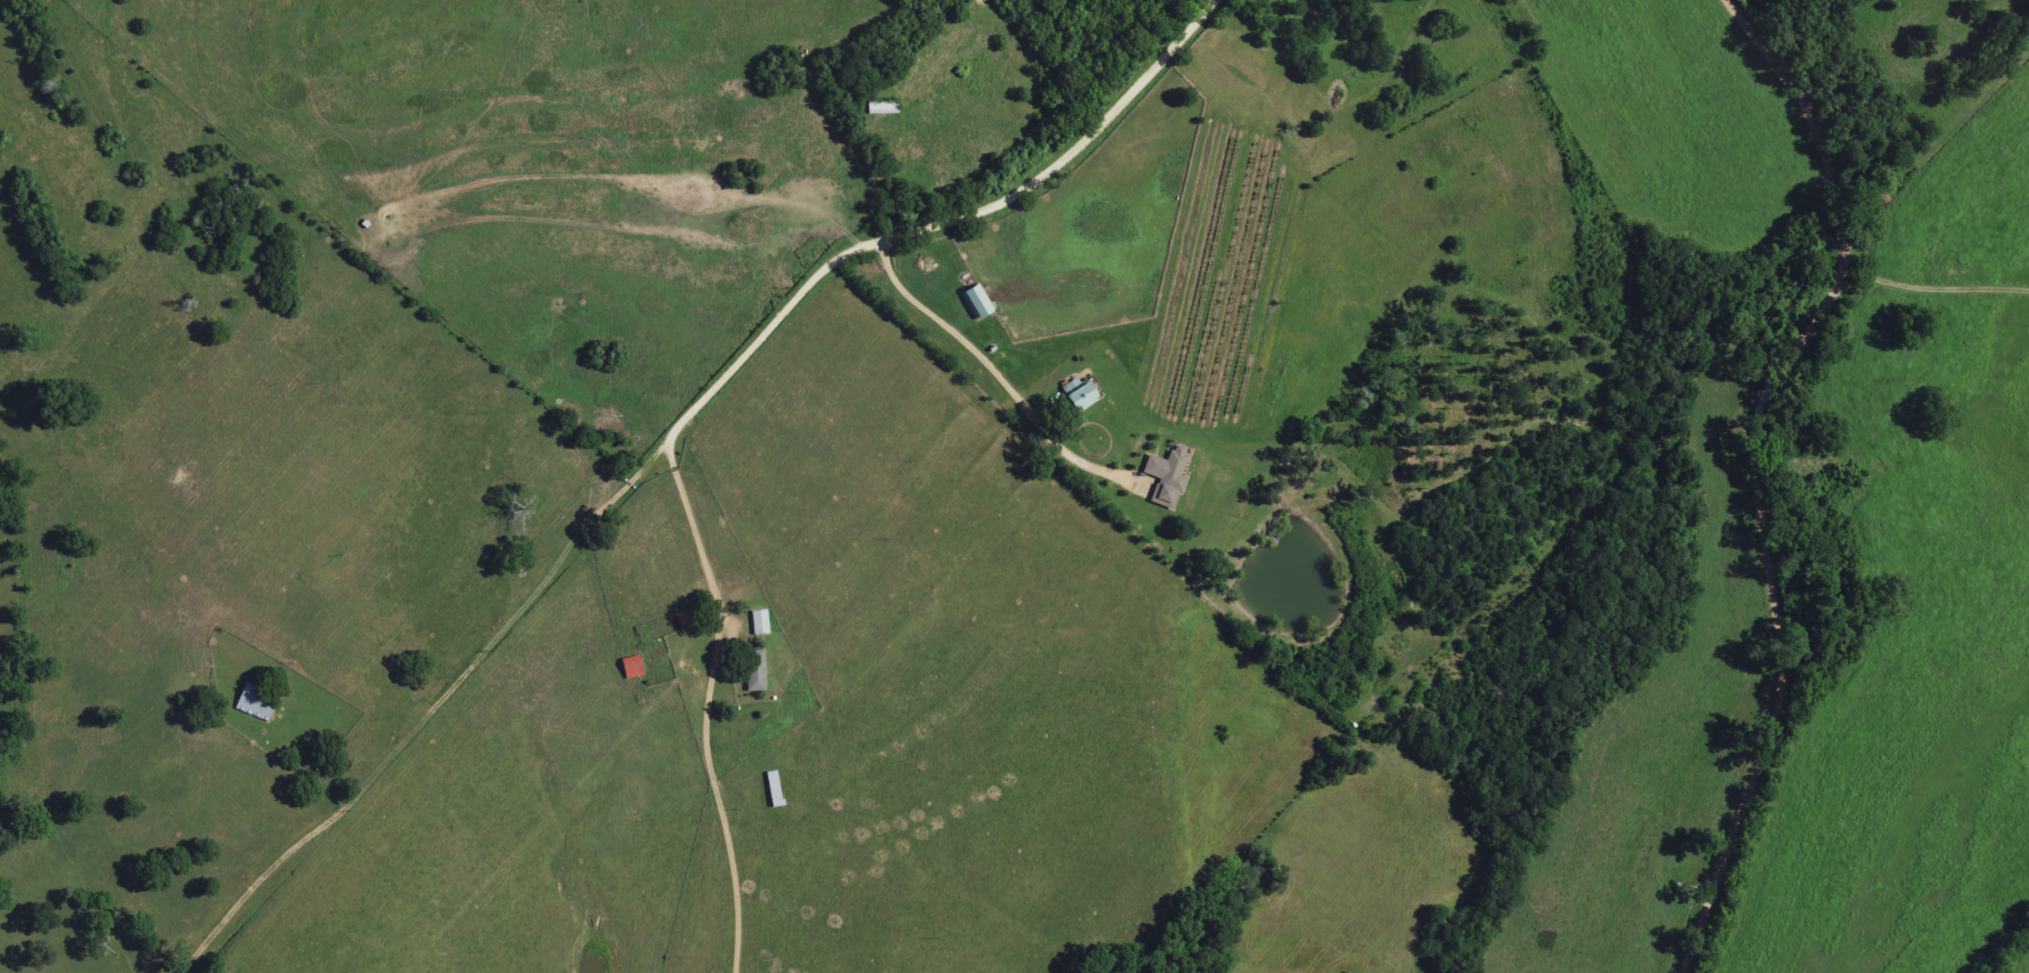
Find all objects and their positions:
road: (850, 252)
building: (976, 302)
road: (1909, 345)
building: (1078, 397)
road: (472, 427)
road: (1760, 464)
building: (1166, 477)
building: (684, 621)
building: (759, 623)
road: (517, 632)
building: (631, 668)
building: (755, 671)
building: (255, 703)

